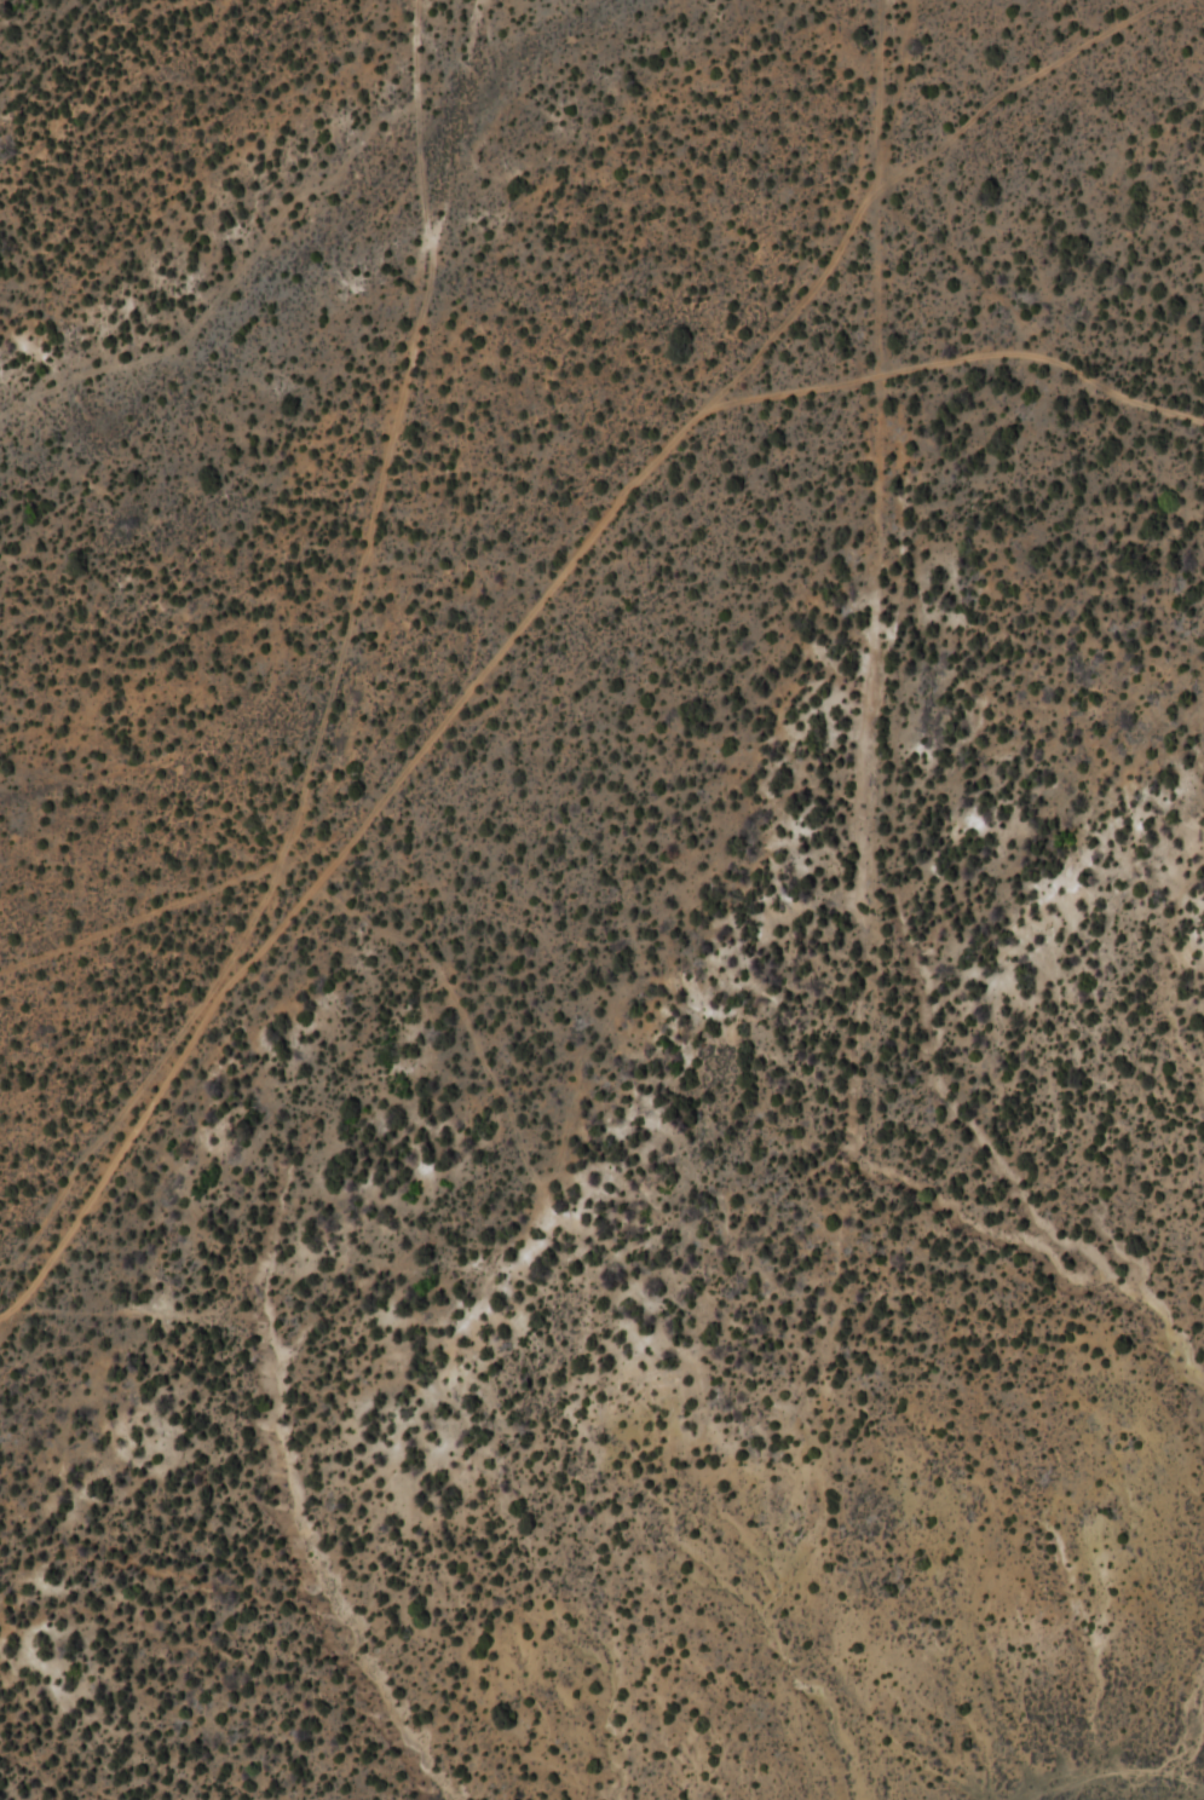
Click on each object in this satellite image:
road: (894, 93)
road: (963, 273)
road: (958, 357)
road: (652, 455)
road: (326, 702)
road: (5, 1317)

